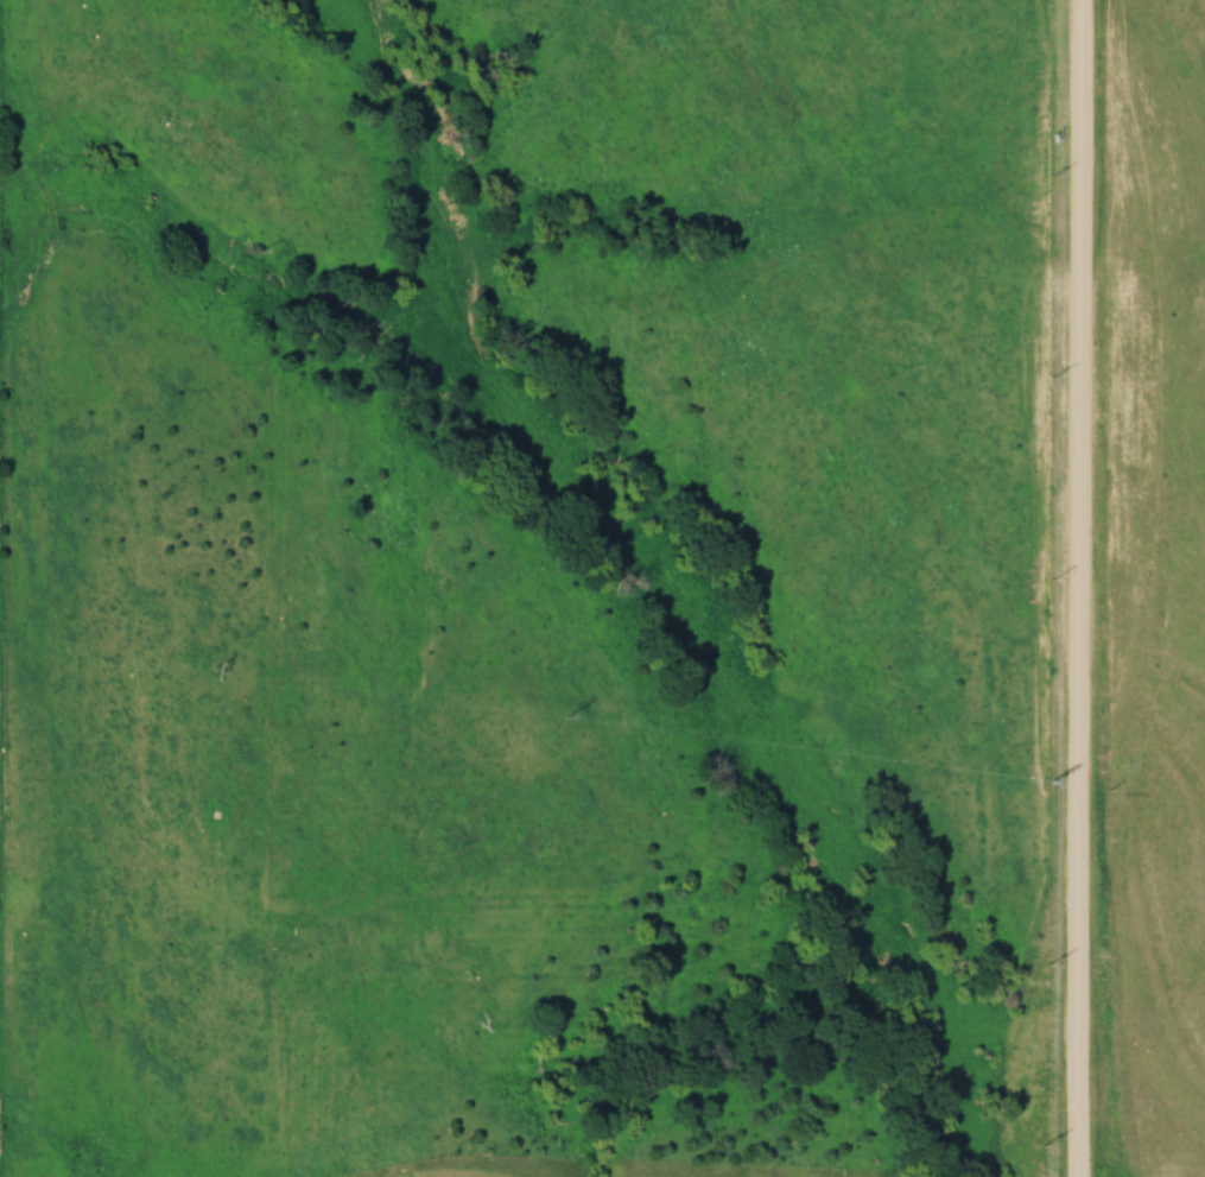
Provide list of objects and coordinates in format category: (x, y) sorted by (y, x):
road: (1077, 588)

